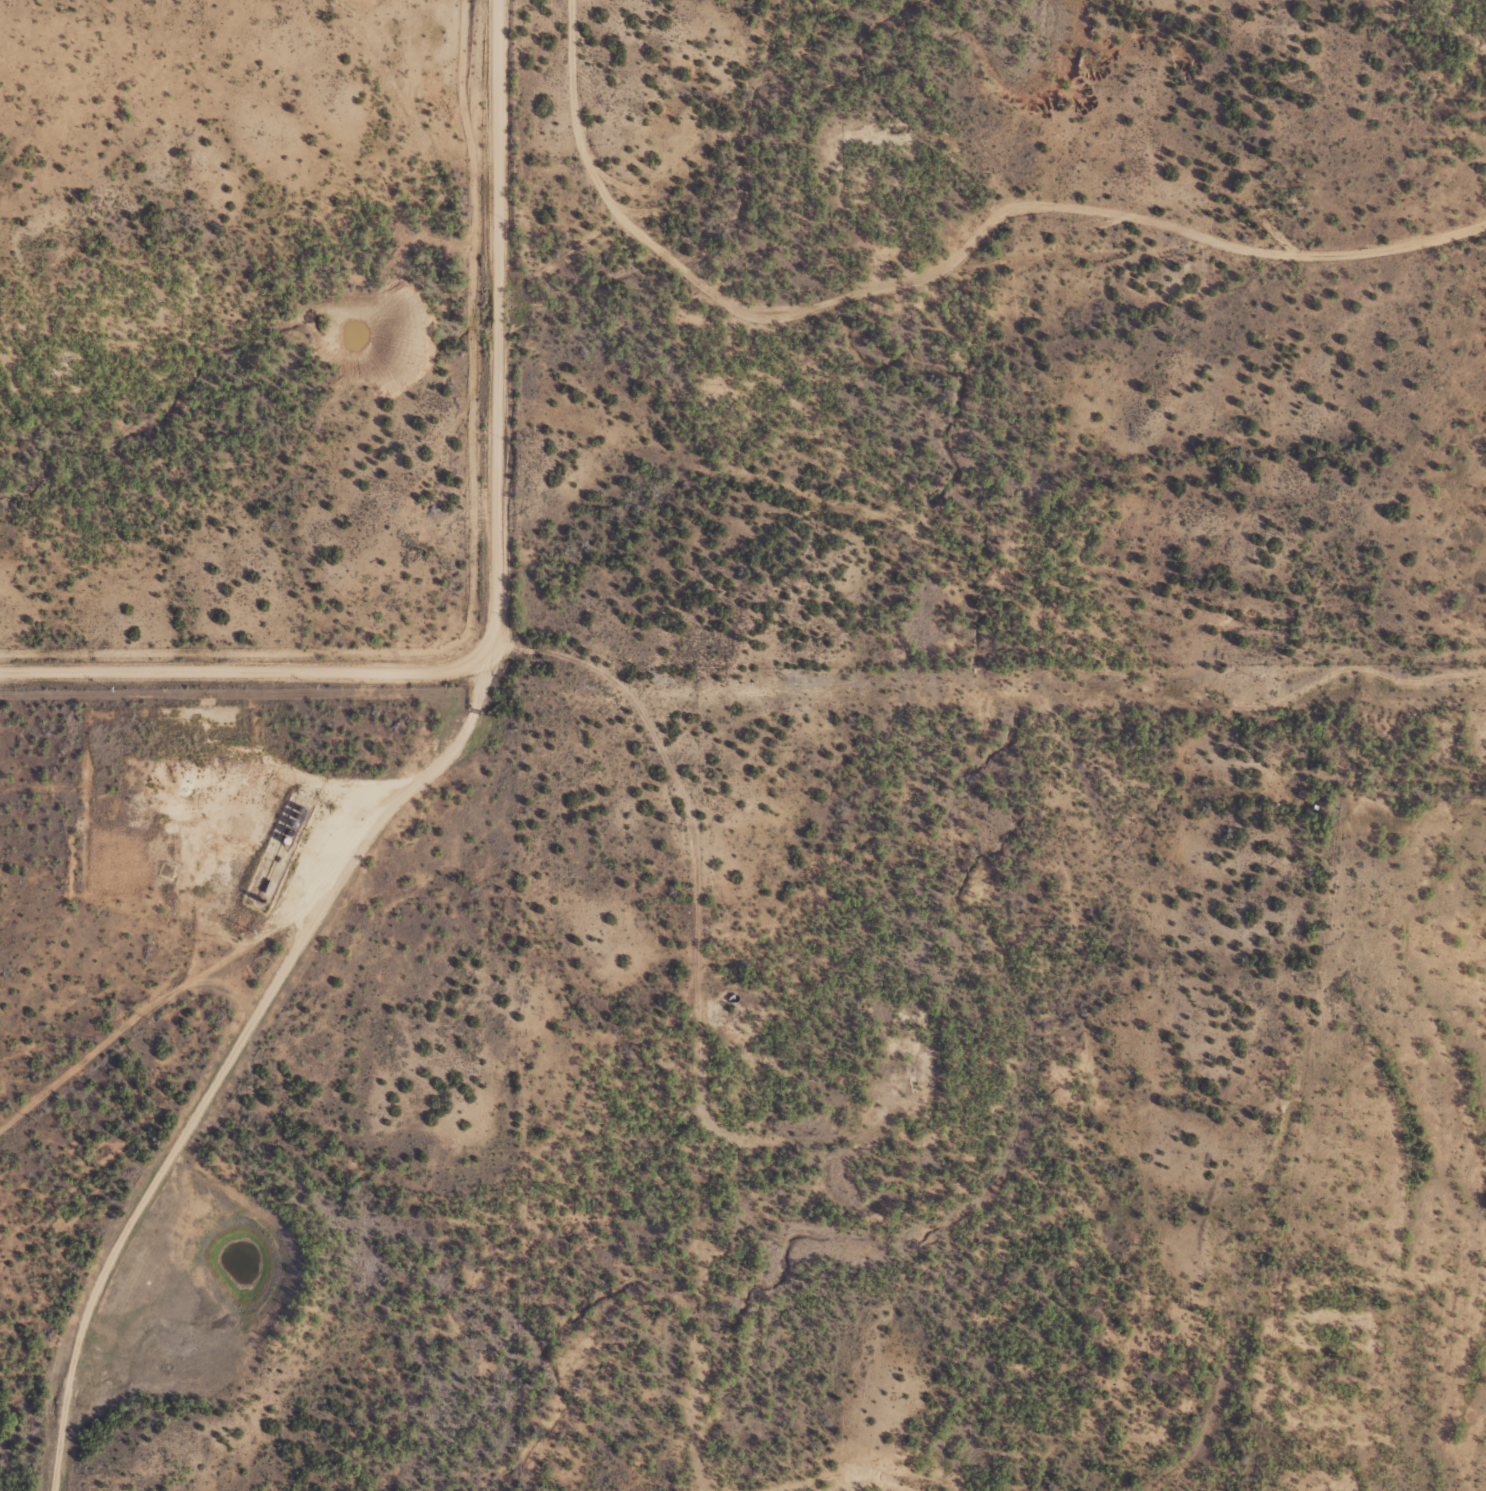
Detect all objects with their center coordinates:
road: (932, 303)
road: (509, 584)
road: (867, 904)
road: (637, 973)
road: (156, 1006)
road: (227, 1071)

